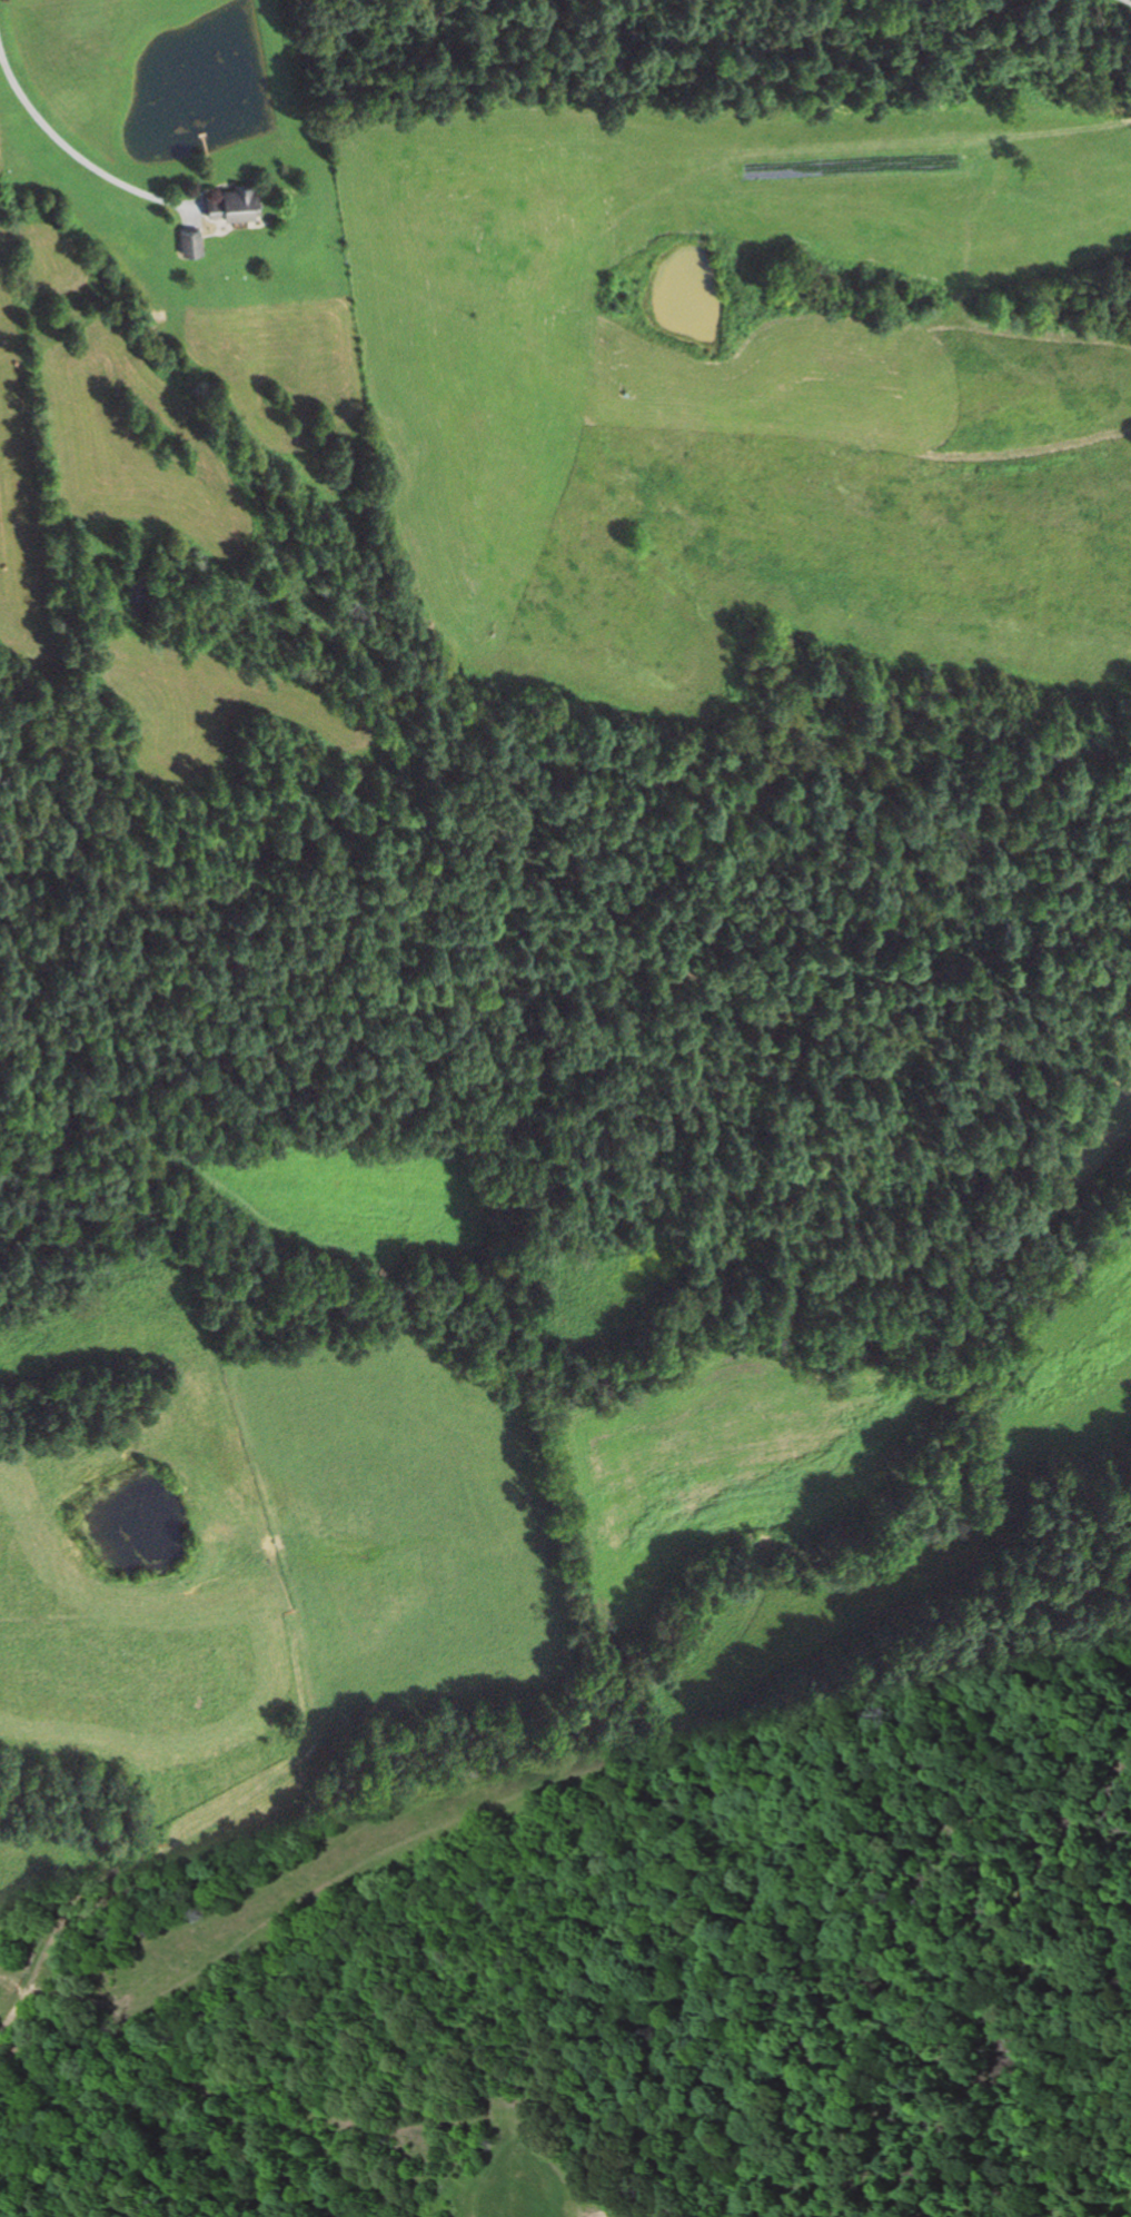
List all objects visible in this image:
road: (1130, 0)
building: (232, 201)
building: (190, 241)

